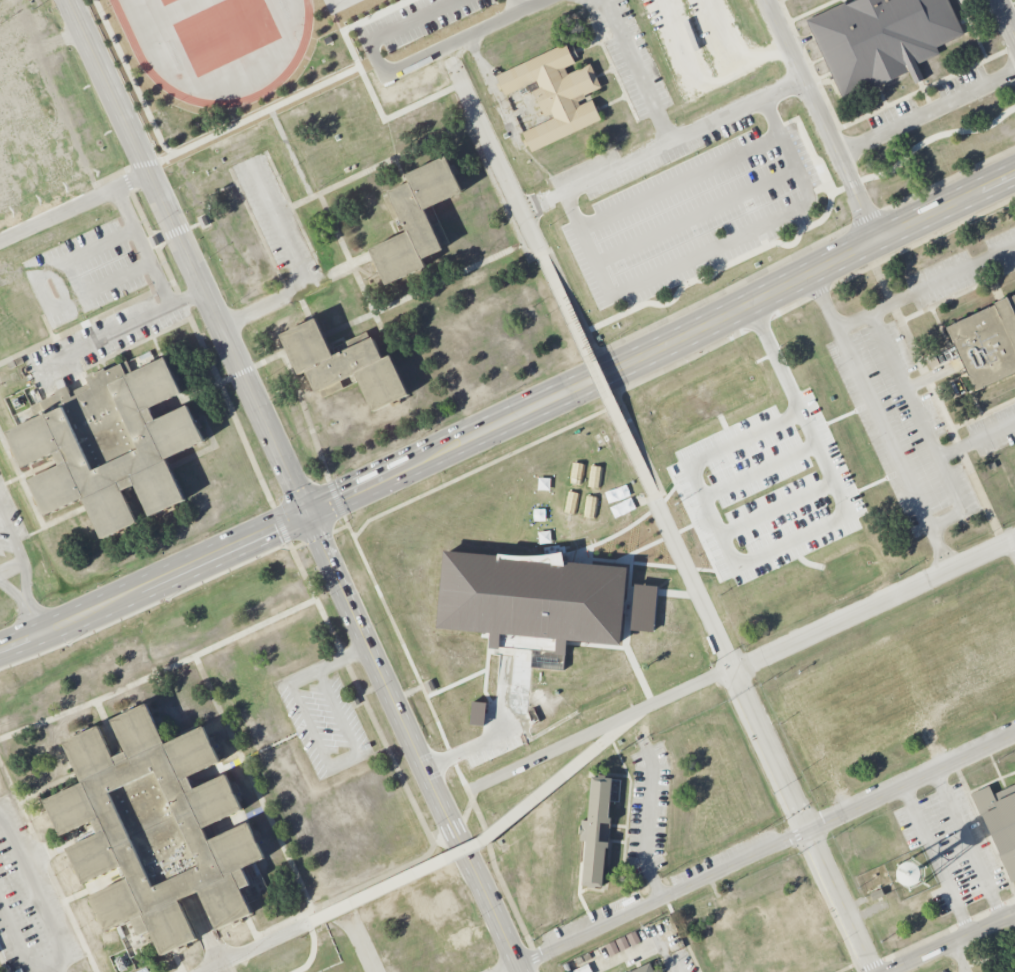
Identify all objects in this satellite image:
road: (844, 1)
road: (516, 6)
road: (812, 10)
road: (788, 17)
road: (1006, 17)
road: (17, 21)
road: (964, 21)
road: (398, 29)
road: (973, 29)
road: (464, 37)
building: (880, 39)
road: (733, 52)
road: (31, 53)
road: (816, 60)
road: (695, 67)
road: (638, 70)
road: (823, 76)
road: (132, 79)
road: (366, 82)
road: (924, 91)
building: (555, 92)
road: (881, 95)
road: (18, 97)
road: (458, 106)
road: (883, 106)
road: (260, 114)
road: (823, 122)
road: (452, 130)
road: (71, 137)
road: (662, 144)
road: (291, 152)
road: (498, 160)
road: (144, 164)
road: (124, 169)
road: (400, 171)
road: (127, 182)
road: (682, 182)
road: (74, 205)
parking lot: (274, 218)
building: (415, 221)
road: (943, 230)
road: (161, 239)
road: (153, 241)
road: (143, 246)
road: (713, 249)
road: (188, 256)
road: (298, 269)
parking lot: (961, 269)
road: (548, 271)
parking lot: (82, 274)
road: (366, 274)
road: (356, 275)
road: (751, 275)
road: (942, 279)
road: (830, 284)
road: (45, 292)
road: (182, 303)
road: (304, 305)
road: (122, 329)
parking lot: (103, 339)
building: (986, 343)
road: (661, 347)
road: (204, 348)
road: (772, 350)
building: (344, 365)
road: (598, 376)
building: (61, 384)
parking lot: (993, 429)
parking lot: (900, 430)
road: (976, 440)
building: (109, 444)
road: (485, 466)
road: (758, 471)
road: (647, 480)
parking lot: (766, 490)
road: (776, 510)
traffic signals: (307, 514)
road: (278, 520)
road: (935, 522)
road: (623, 529)
parking lot: (11, 536)
road: (320, 537)
road: (1014, 542)
road: (654, 543)
road: (638, 562)
road: (740, 565)
road: (11, 566)
road: (24, 573)
road: (370, 573)
road: (153, 582)
road: (664, 592)
building: (532, 599)
road: (628, 600)
road: (146, 607)
building: (644, 608)
road: (33, 619)
road: (627, 650)
road: (730, 664)
road: (741, 665)
road: (486, 668)
road: (159, 673)
road: (456, 683)
road: (502, 695)
parking lot: (857, 707)
building: (478, 714)
parking lot: (324, 718)
road: (109, 728)
road: (316, 741)
road: (414, 743)
road: (475, 745)
road: (218, 769)
road: (256, 788)
road: (468, 809)
parking lot: (647, 810)
road: (647, 819)
road: (237, 821)
building: (998, 824)
building: (155, 828)
road: (446, 828)
building: (596, 830)
road: (487, 837)
road: (973, 846)
parking lot: (951, 849)
road: (758, 855)
road: (939, 862)
road: (47, 867)
water tower: (913, 873)
road: (497, 874)
road: (95, 888)
road: (36, 892)
road: (839, 902)
parking lot: (30, 903)
road: (298, 916)
road: (206, 929)
road: (16, 938)
building: (622, 943)
road: (958, 944)
road: (256, 946)
road: (959, 959)
road: (177, 961)
parking lot: (680, 962)
road: (3, 963)
road: (673, 965)
building: (583, 969)
building: (645, 969)
parking lot: (946, 971)

